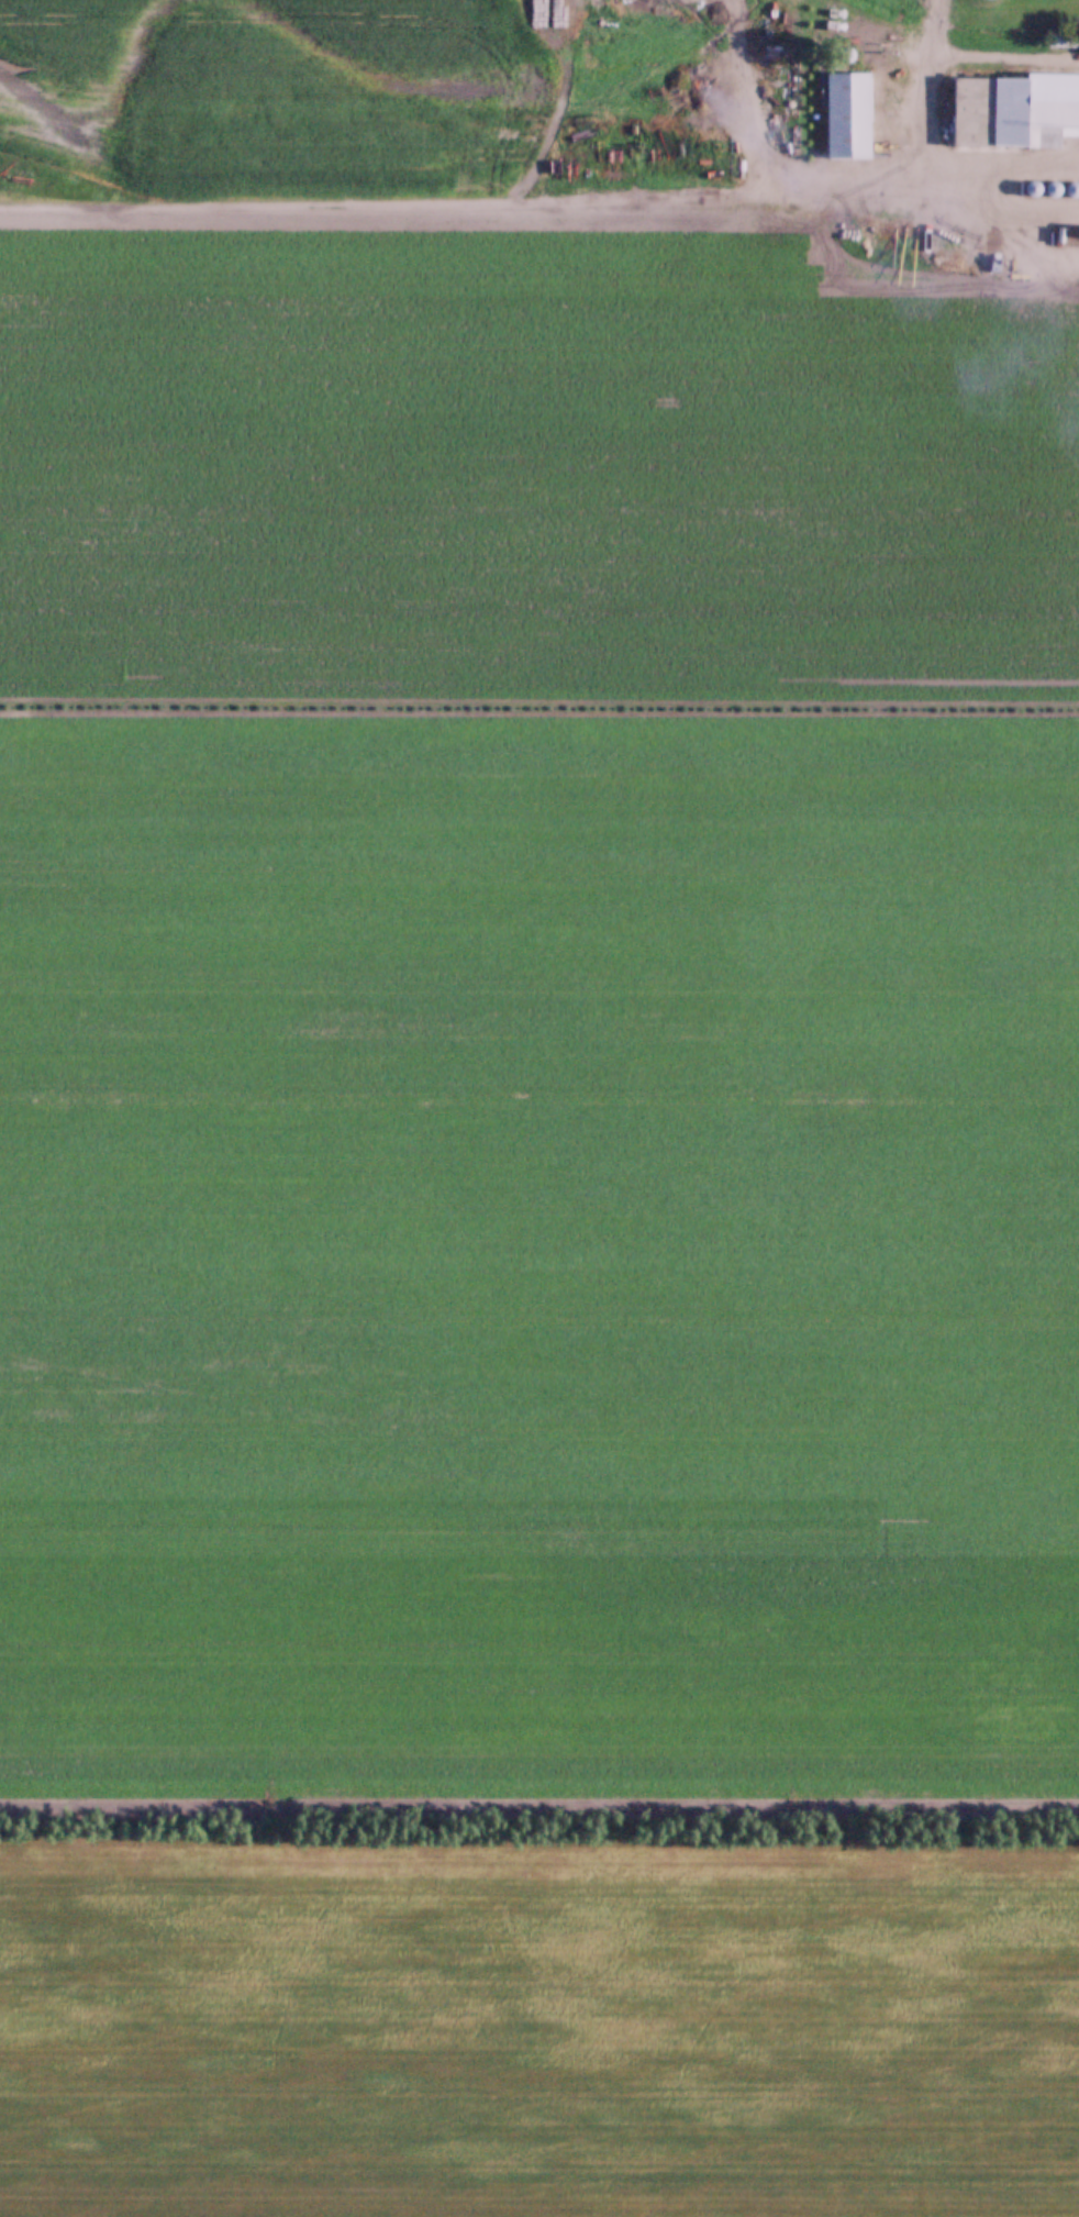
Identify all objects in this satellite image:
building: (1013, 113)
building: (846, 117)
road: (930, 163)

